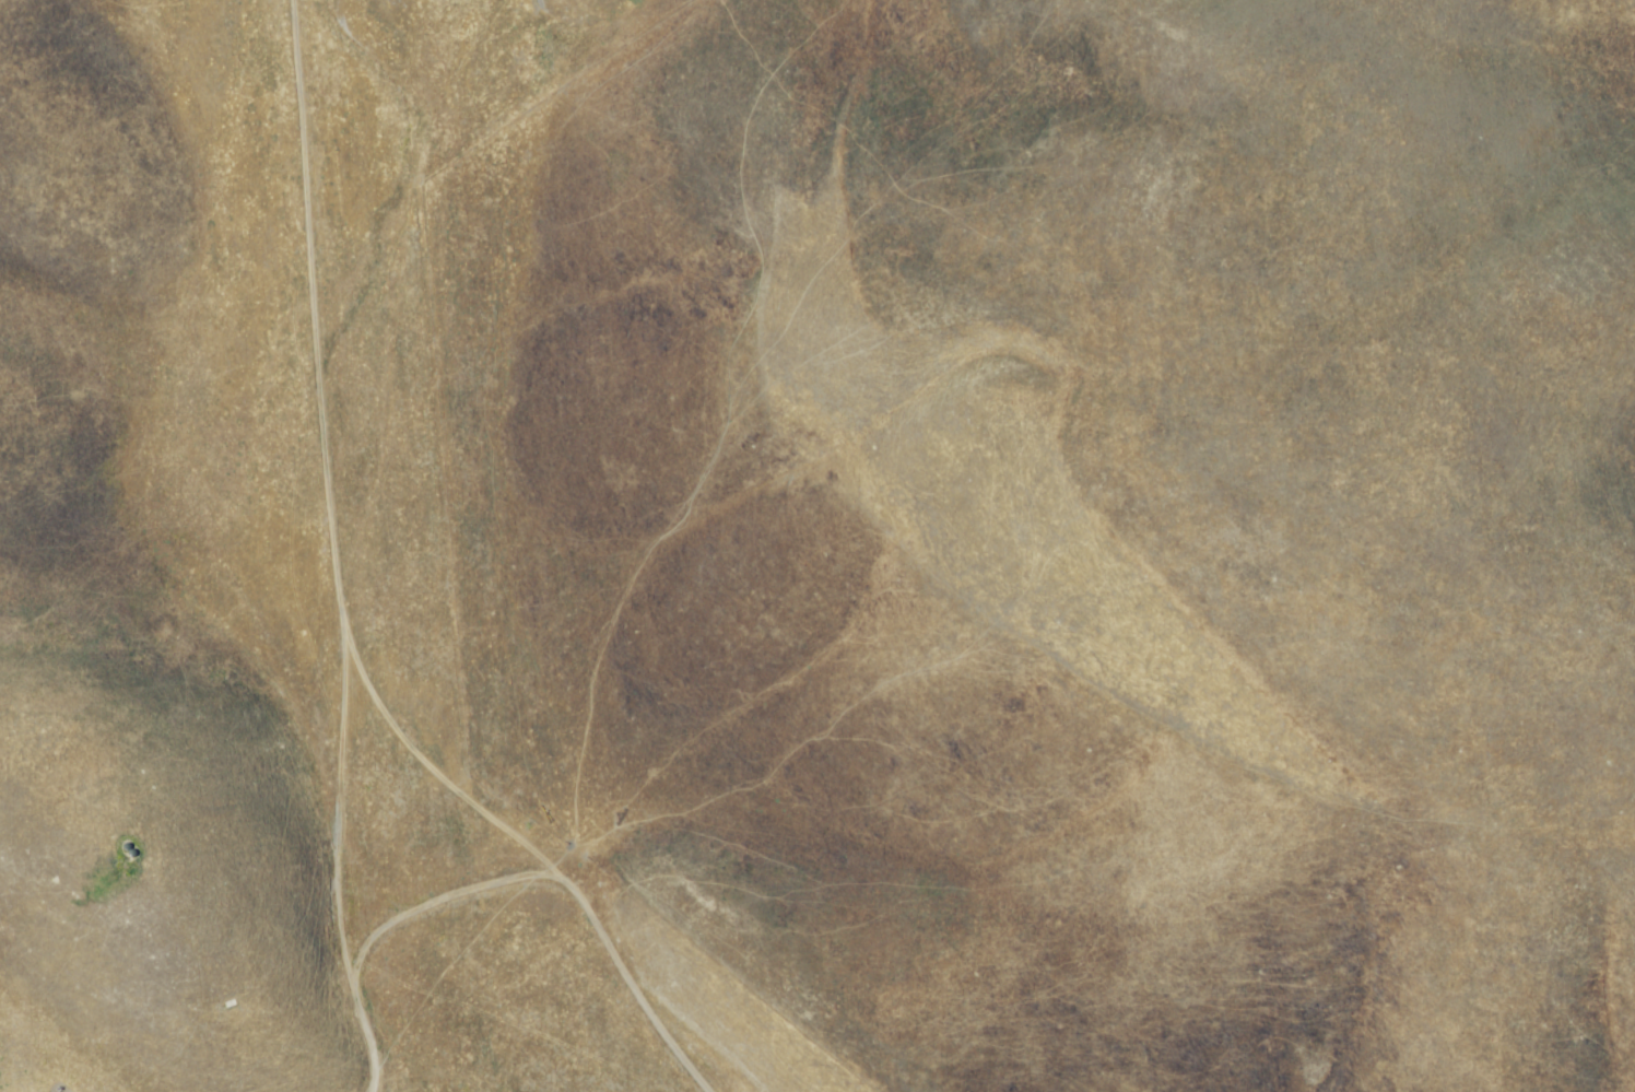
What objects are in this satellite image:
crop: (818, 545)
road: (517, 870)

